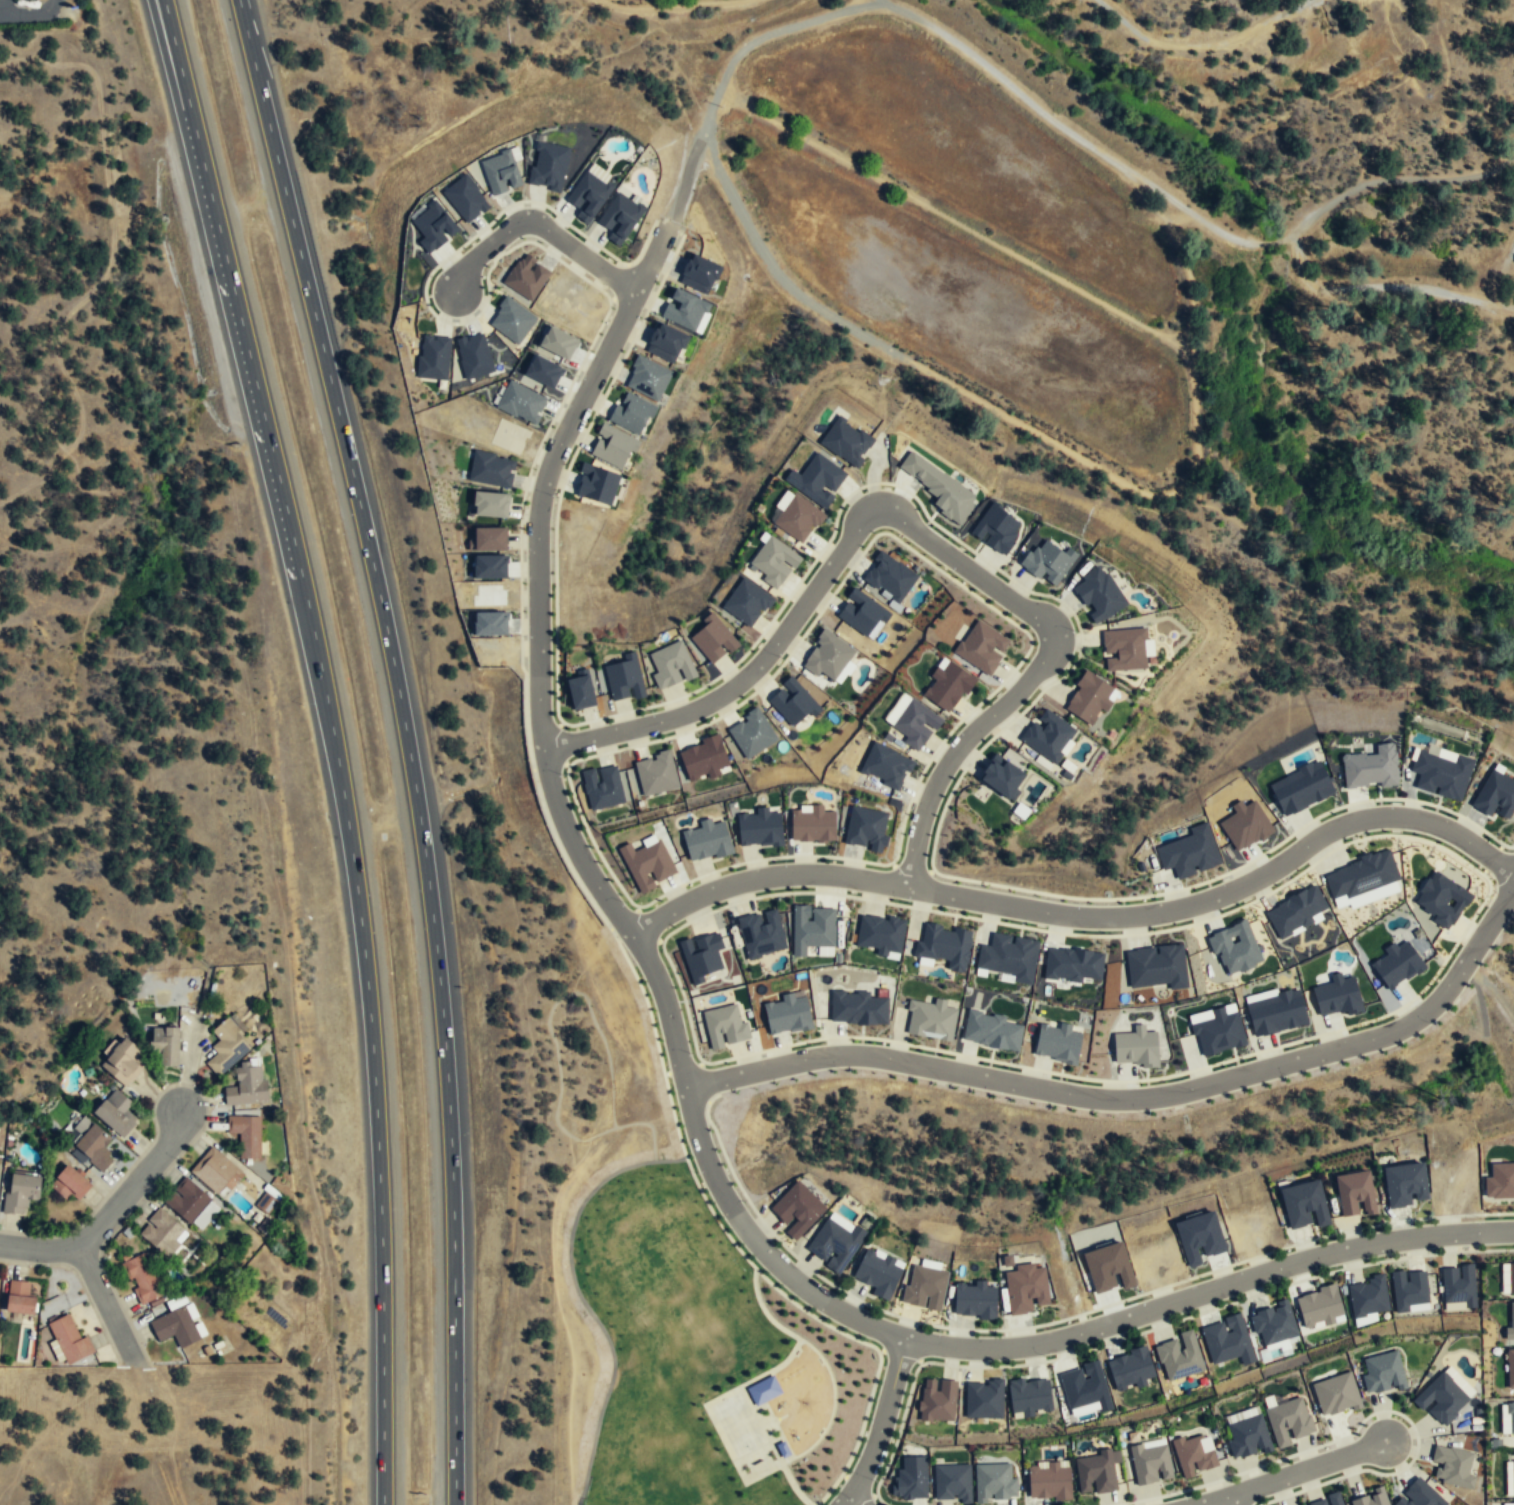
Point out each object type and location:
road: (1, 7)
road: (31, 12)
road: (1, 14)
road: (1076, 137)
building: (547, 164)
road: (716, 166)
building: (499, 172)
road: (686, 176)
road: (1393, 179)
building: (589, 192)
building: (465, 198)
building: (619, 217)
building: (432, 227)
road: (603, 271)
building: (526, 276)
road: (1384, 286)
building: (684, 310)
building: (511, 321)
building: (555, 342)
building: (665, 343)
building: (473, 356)
building: (433, 357)
building: (541, 371)
building: (647, 378)
building: (520, 402)
building: (631, 413)
building: (845, 442)
building: (613, 446)
building: (491, 469)
building: (817, 479)
road: (1184, 481)
building: (596, 485)
building: (939, 488)
building: (783, 500)
building: (489, 505)
building: (798, 518)
road: (910, 526)
building: (994, 527)
building: (487, 540)
building: (772, 562)
building: (1047, 562)
building: (488, 567)
building: (890, 576)
building: (1099, 595)
building: (747, 603)
building: (861, 612)
building: (487, 624)
building: (712, 642)
building: (981, 647)
building: (1125, 650)
building: (828, 657)
building: (671, 665)
building: (624, 679)
building: (948, 686)
building: (580, 692)
building: (1089, 698)
building: (793, 702)
building: (912, 721)
building: (751, 735)
building: (1049, 735)
road: (334, 743)
road: (407, 744)
building: (703, 759)
building: (886, 765)
building: (1371, 768)
building: (655, 774)
building: (1441, 774)
building: (1001, 777)
building: (602, 787)
building: (1300, 789)
building: (1496, 794)
building: (812, 825)
building: (1245, 825)
building: (759, 828)
building: (866, 829)
building: (706, 841)
building: (1188, 853)
building: (647, 864)
building: (1364, 879)
building: (1442, 899)
building: (1295, 911)
road: (1083, 918)
building: (811, 928)
building: (761, 934)
building: (880, 934)
building: (943, 946)
building: (1234, 947)
building: (700, 956)
building: (1008, 956)
building: (1072, 964)
building: (1397, 964)
building: (1156, 966)
building: (1336, 995)
building: (857, 1007)
building: (1275, 1011)
building: (786, 1014)
building: (930, 1019)
building: (724, 1026)
building: (1217, 1029)
building: (991, 1030)
building: (1057, 1042)
building: (167, 1043)
building: (227, 1045)
building: (1136, 1046)
building: (124, 1061)
building: (246, 1085)
road: (1136, 1099)
building: (116, 1111)
road: (691, 1113)
building: (245, 1134)
building: (96, 1145)
building: (215, 1170)
building: (70, 1182)
building: (1500, 1182)
building: (1405, 1186)
building: (20, 1192)
building: (1353, 1195)
building: (186, 1199)
building: (266, 1202)
building: (1303, 1206)
road: (113, 1209)
building: (797, 1210)
building: (161, 1231)
building: (1199, 1237)
building: (834, 1244)
building: (1108, 1267)
building: (878, 1274)
building: (1507, 1277)
building: (142, 1278)
building: (1457, 1285)
building: (924, 1289)
building: (1409, 1289)
building: (1025, 1290)
building: (21, 1297)
building: (1368, 1298)
road: (105, 1301)
building: (975, 1301)
building: (1320, 1308)
building: (1510, 1321)
building: (1273, 1324)
building: (174, 1326)
road: (846, 1334)
building: (70, 1339)
building: (1227, 1340)
building: (1179, 1357)
building: (1130, 1369)
building: (1510, 1369)
building: (1382, 1373)
road: (833, 1387)
building: (1084, 1388)
road: (745, 1390)
building: (764, 1390)
building: (1336, 1395)
building: (1030, 1397)
building: (1442, 1398)
building: (937, 1399)
building: (983, 1399)
park: (778, 1406)
building: (1242, 1414)
building: (1508, 1419)
building: (1290, 1422)
park: (738, 1424)
road: (881, 1424)
road: (1358, 1426)
road: (859, 1434)
building: (1247, 1437)
building: (783, 1449)
building: (1195, 1455)
building: (1151, 1462)
building: (1452, 1466)
road: (174, 1468)
building: (1096, 1472)
road: (1290, 1474)
building: (1510, 1476)
building: (911, 1479)
building: (1049, 1482)
building: (951, 1484)
building: (994, 1484)
building: (1419, 1495)
building: (1370, 1498)
road: (1228, 1500)
building: (1328, 1501)
road: (849, 1503)
building: (1508, 1503)

